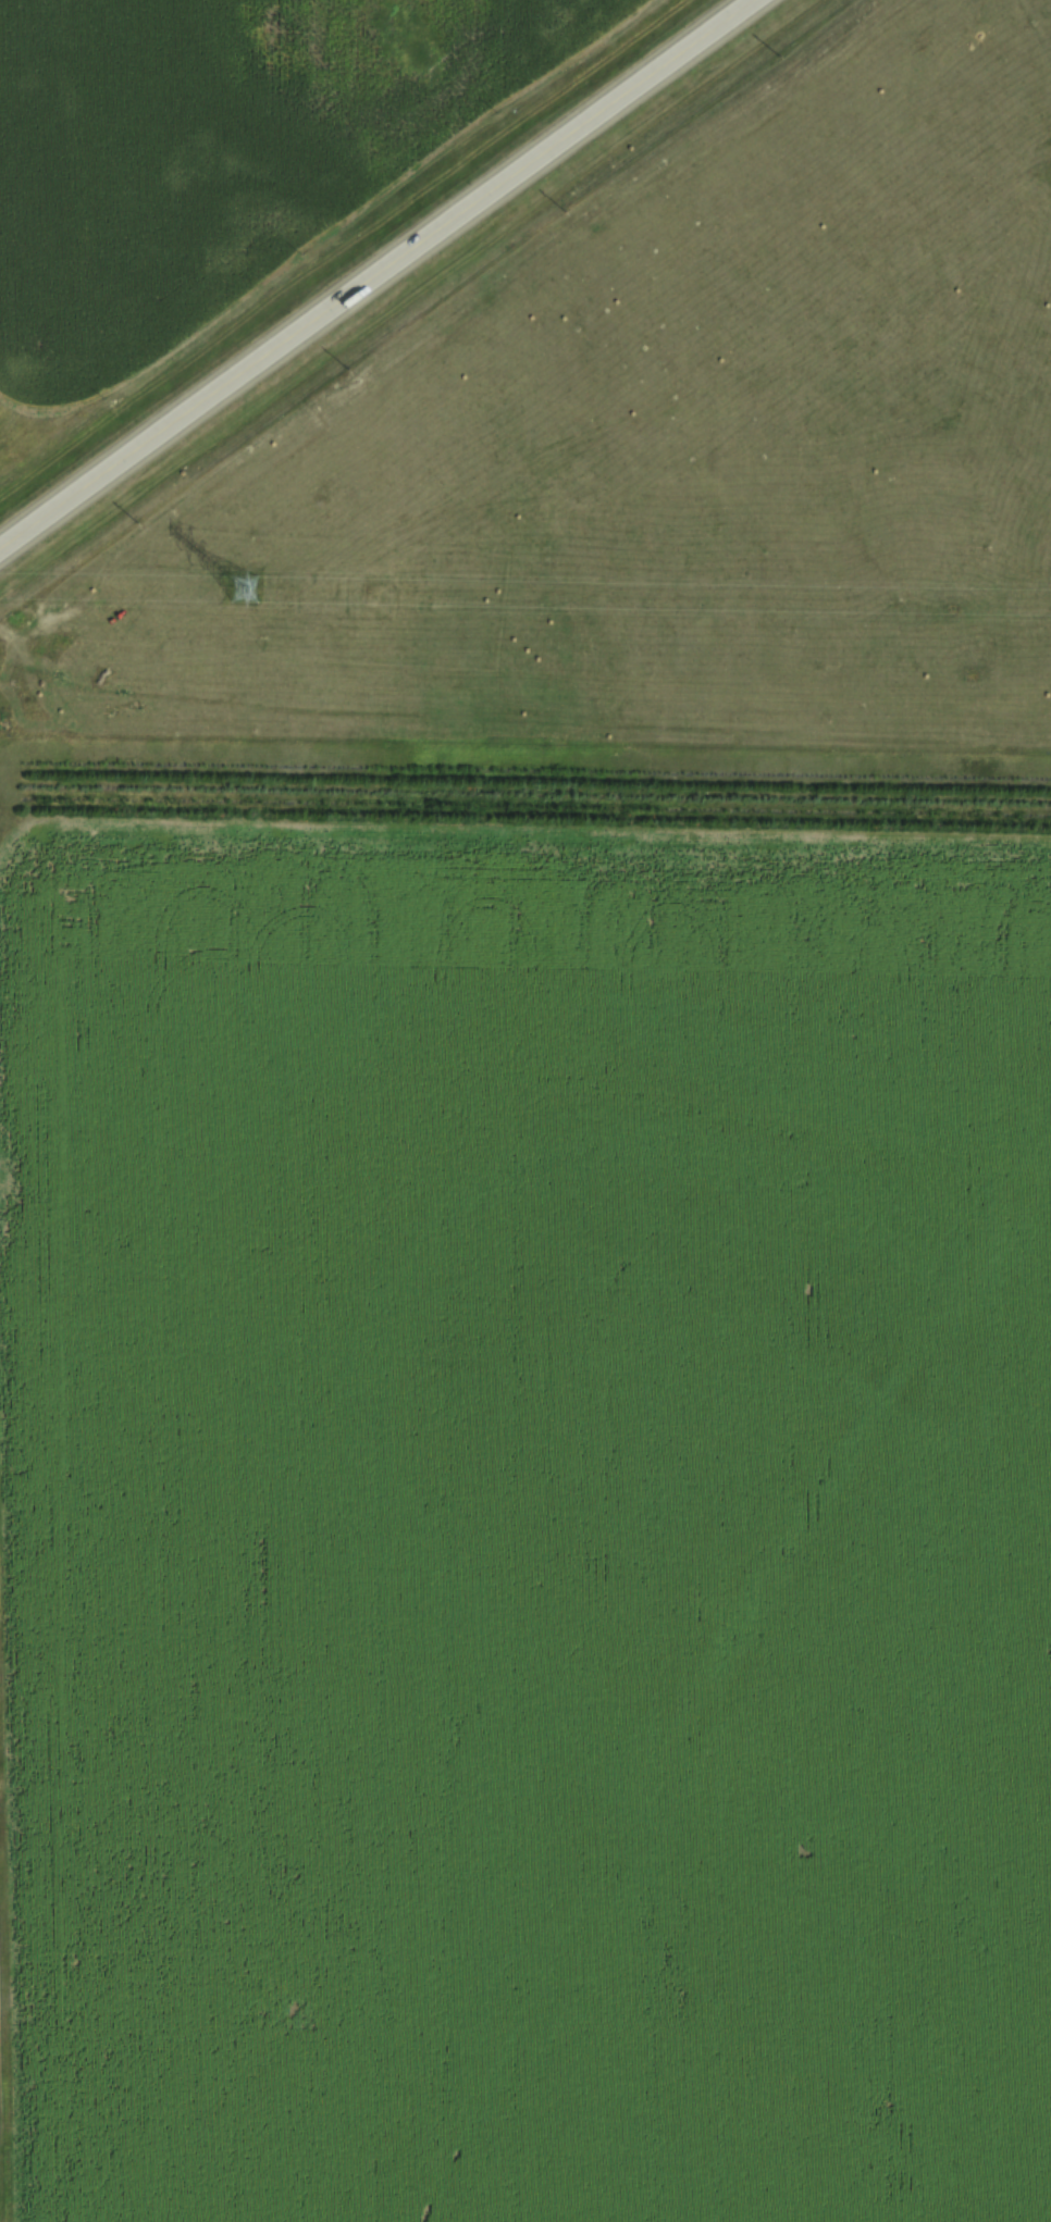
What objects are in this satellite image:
road: (379, 275)
power tower: (242, 588)

